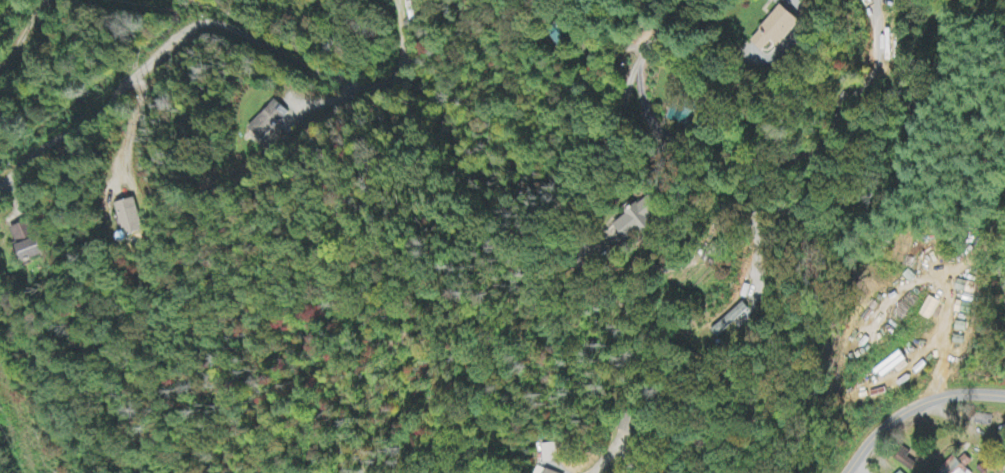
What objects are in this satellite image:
road: (243, 16)
road: (218, 18)
road: (20, 27)
building: (780, 30)
road: (655, 50)
road: (134, 78)
building: (270, 121)
building: (130, 219)
building: (643, 219)
building: (27, 242)
building: (966, 289)
building: (732, 320)
road: (915, 408)
building: (549, 454)
building: (953, 468)
building: (549, 472)

